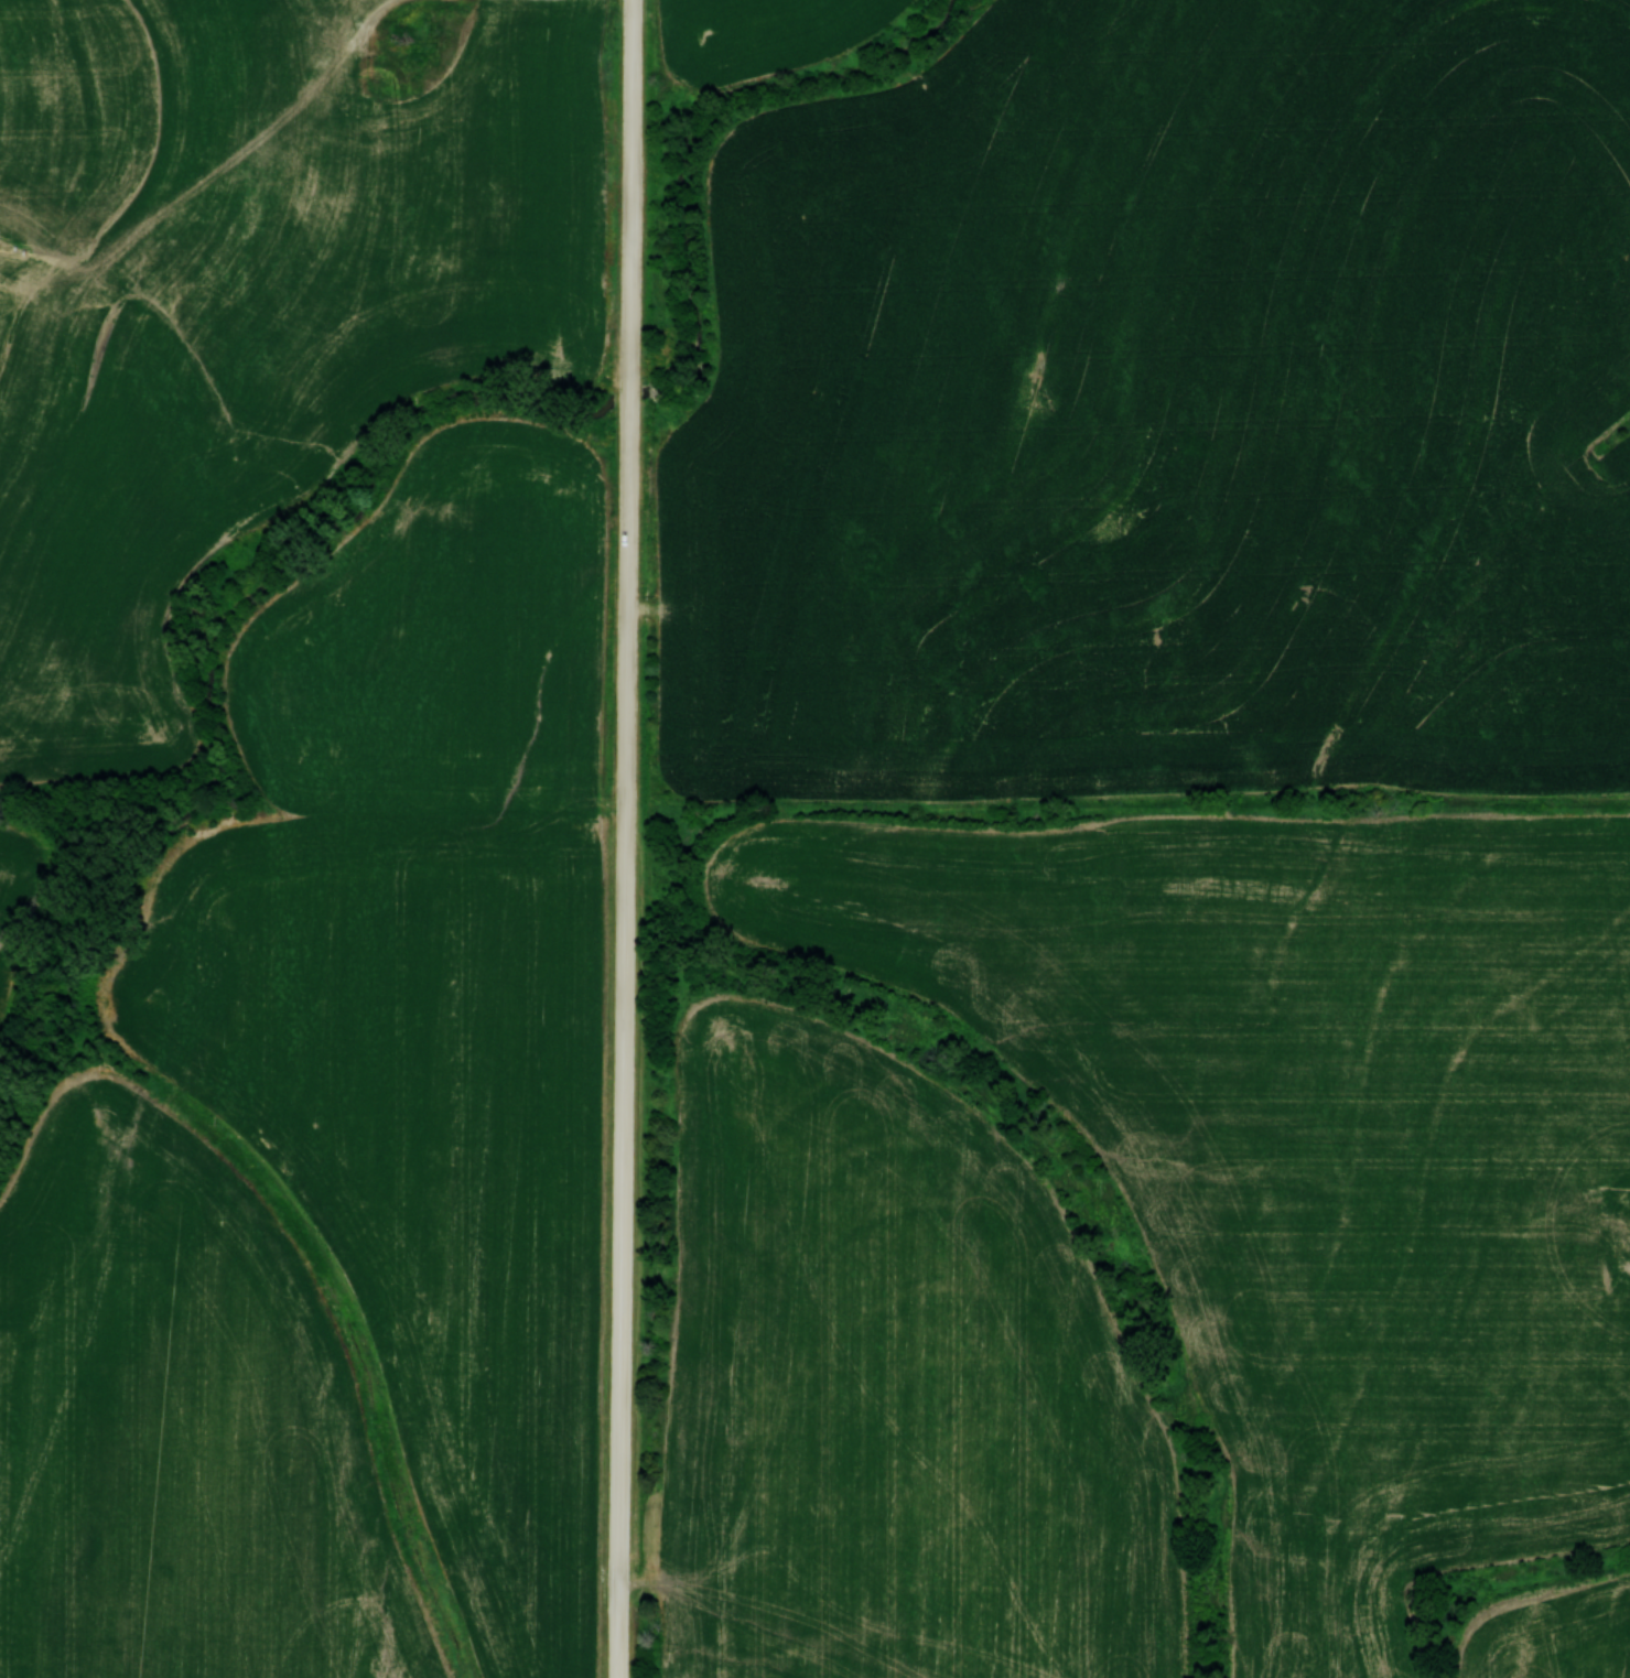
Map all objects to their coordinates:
road: (624, 838)

